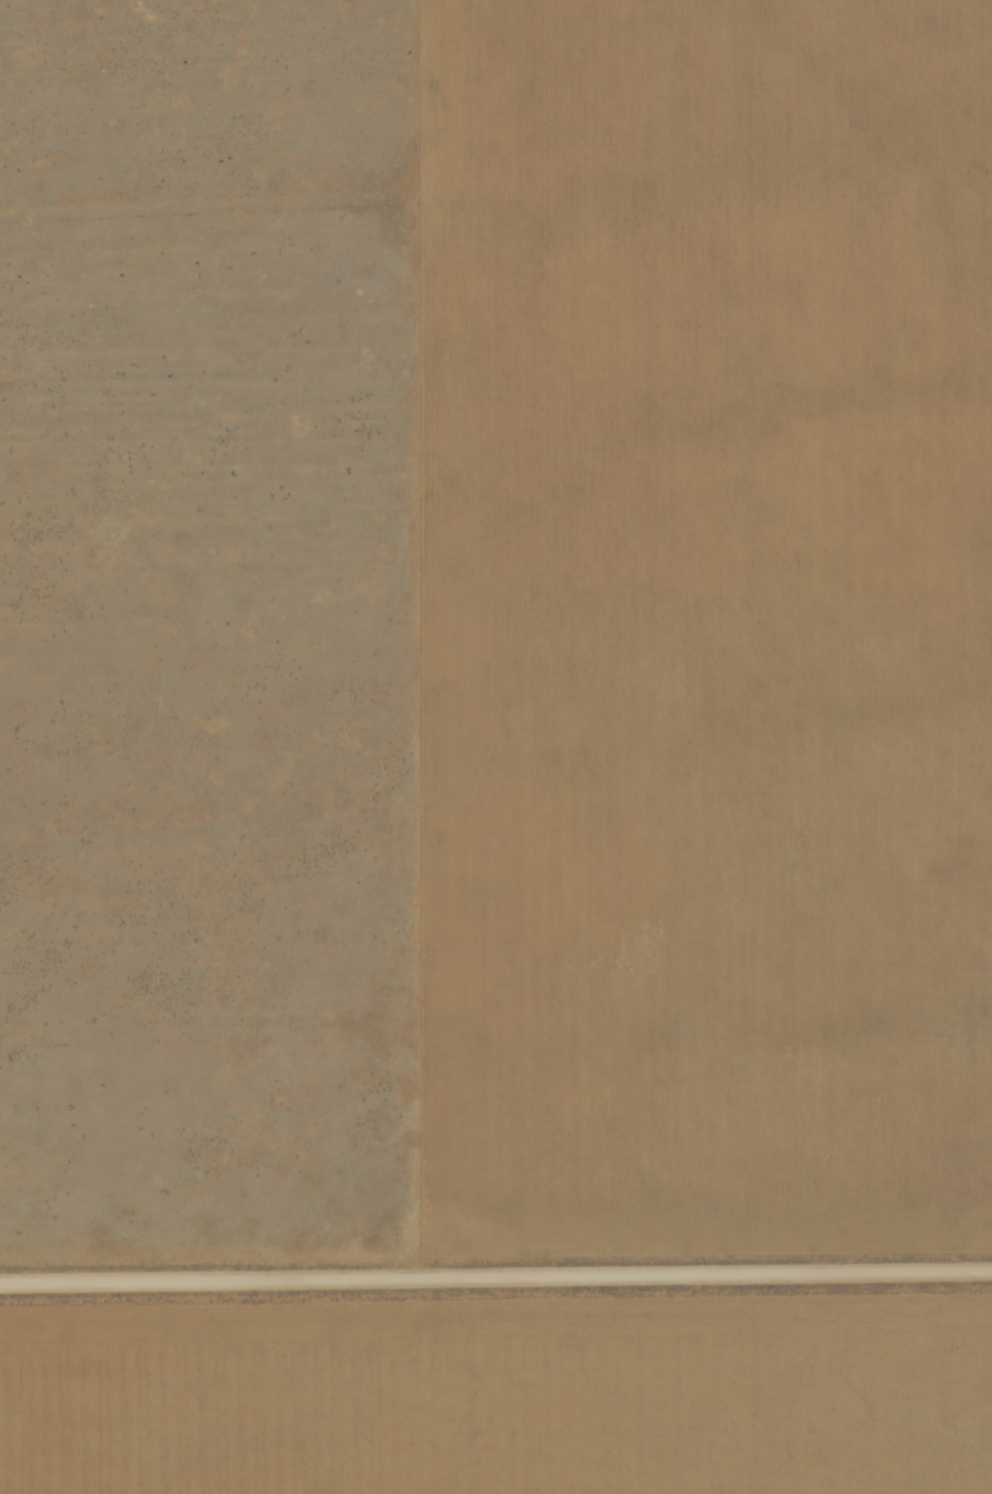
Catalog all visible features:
road: (495, 1282)

